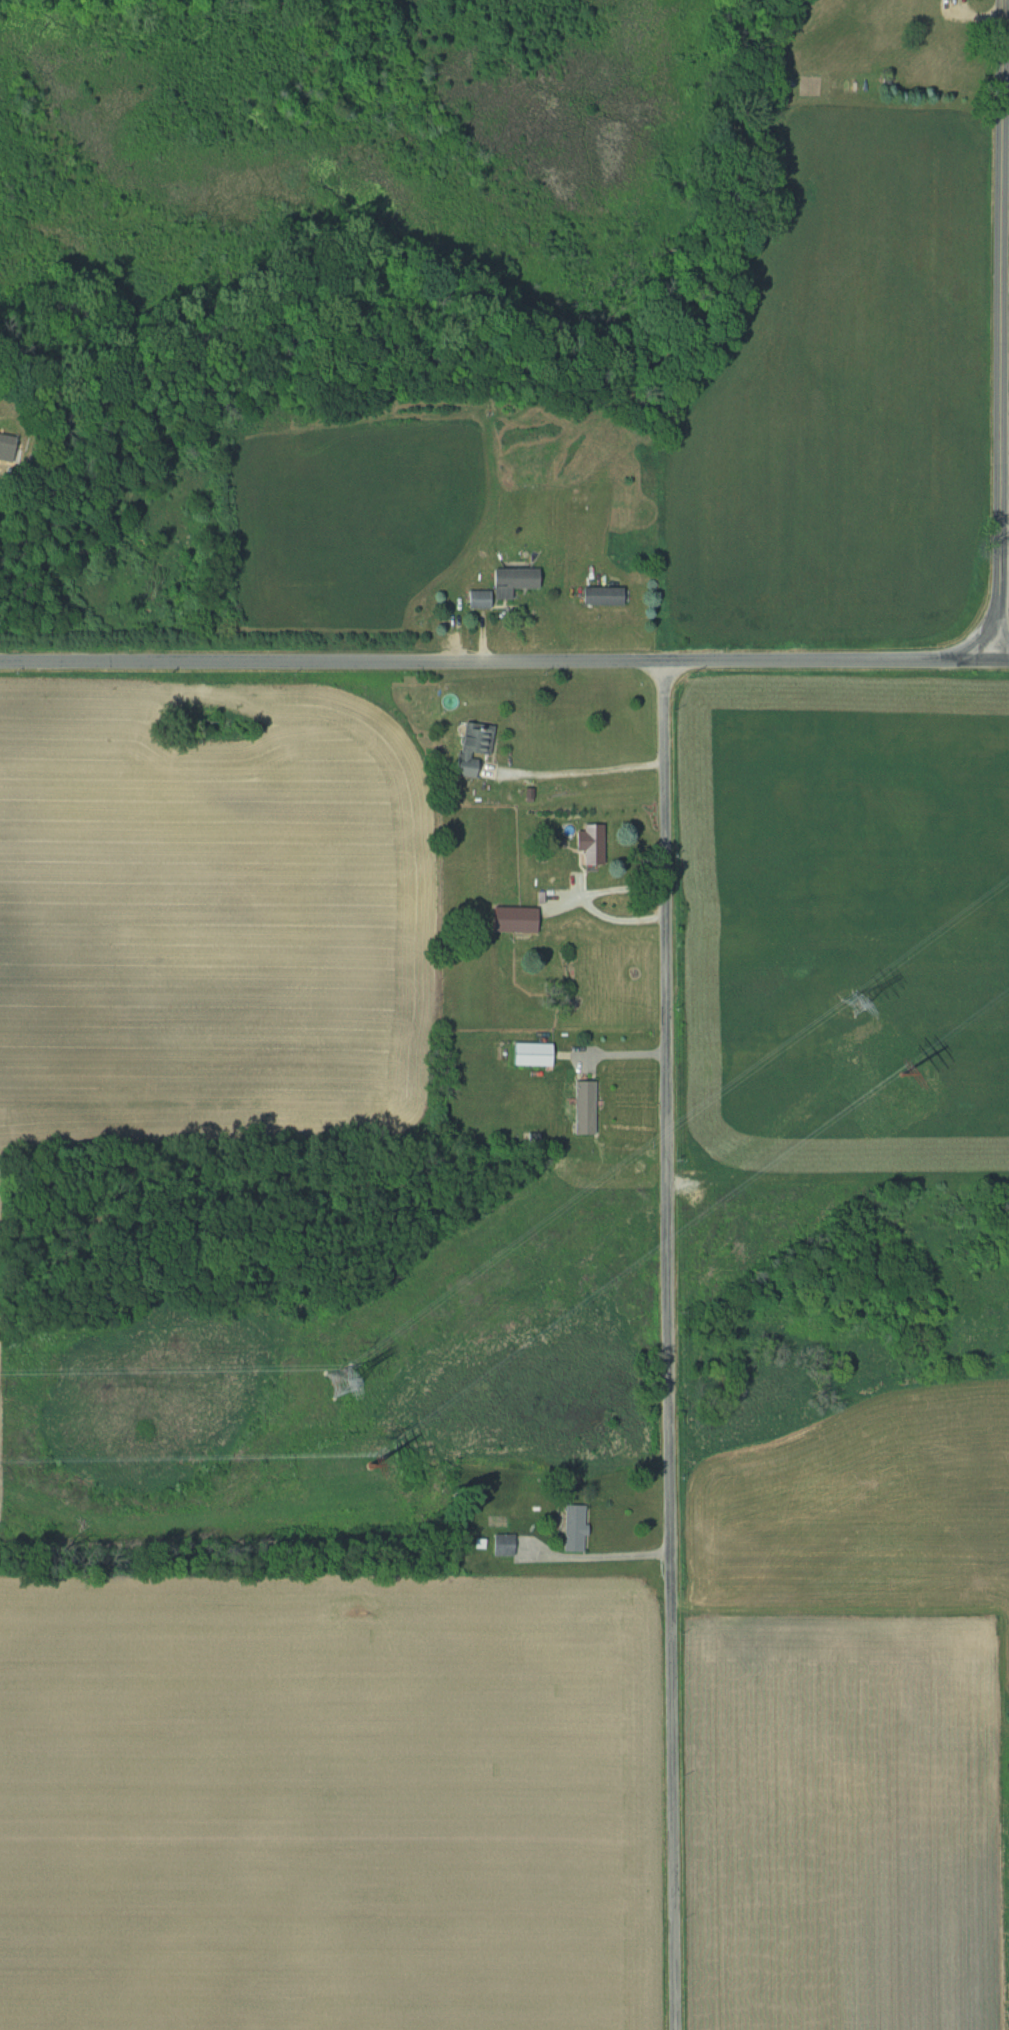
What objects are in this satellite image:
road: (1001, 330)
building: (507, 581)
building: (599, 595)
building: (474, 599)
road: (499, 660)
road: (1003, 660)
building: (468, 746)
road: (575, 772)
building: (588, 842)
building: (510, 918)
power tower: (851, 1003)
building: (529, 1053)
power tower: (898, 1072)
building: (579, 1106)
road: (669, 1345)
power tower: (339, 1382)
power tower: (368, 1463)
building: (571, 1527)
building: (501, 1544)
road: (607, 1563)

